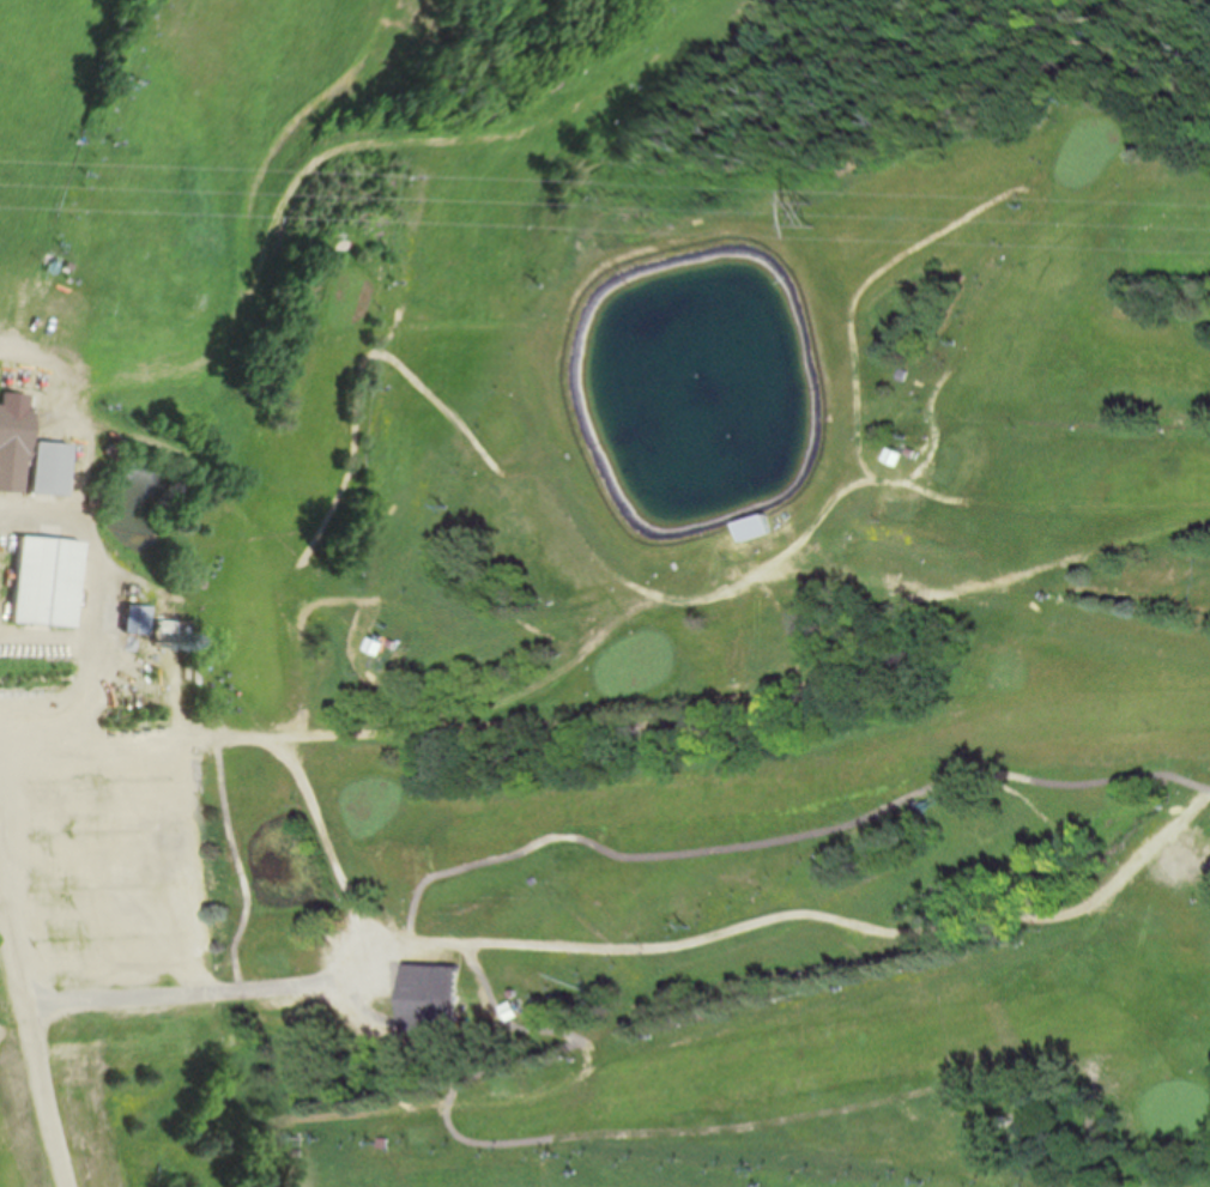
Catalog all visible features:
aerialway pylon: (1102, 34)
aerialway pylon: (135, 78)
aerialway pylon: (1073, 98)
aerialway pylon: (111, 140)
aerialway pylon: (577, 196)
aerialway pylon: (1024, 206)
power tower: (823, 228)
aerialway pylon: (540, 284)
aerialway pylon: (961, 345)
road: (59, 364)
building: (13, 448)
building: (48, 467)
aerialway pylon: (446, 504)
ski resort: (664, 543)
building: (46, 581)
road: (97, 592)
building: (134, 619)
road: (46, 642)
park: (716, 672)
aerialway pylon: (825, 847)
road: (341, 874)
aerialway pylon: (683, 915)
aerialway pylon: (537, 983)
road: (34, 1025)
aerialway pylon: (343, 1140)
aerialway pylon: (391, 1144)
aerialway pylon: (564, 1156)
aerialway pylon: (752, 1169)
aerialway pylon: (924, 1181)

